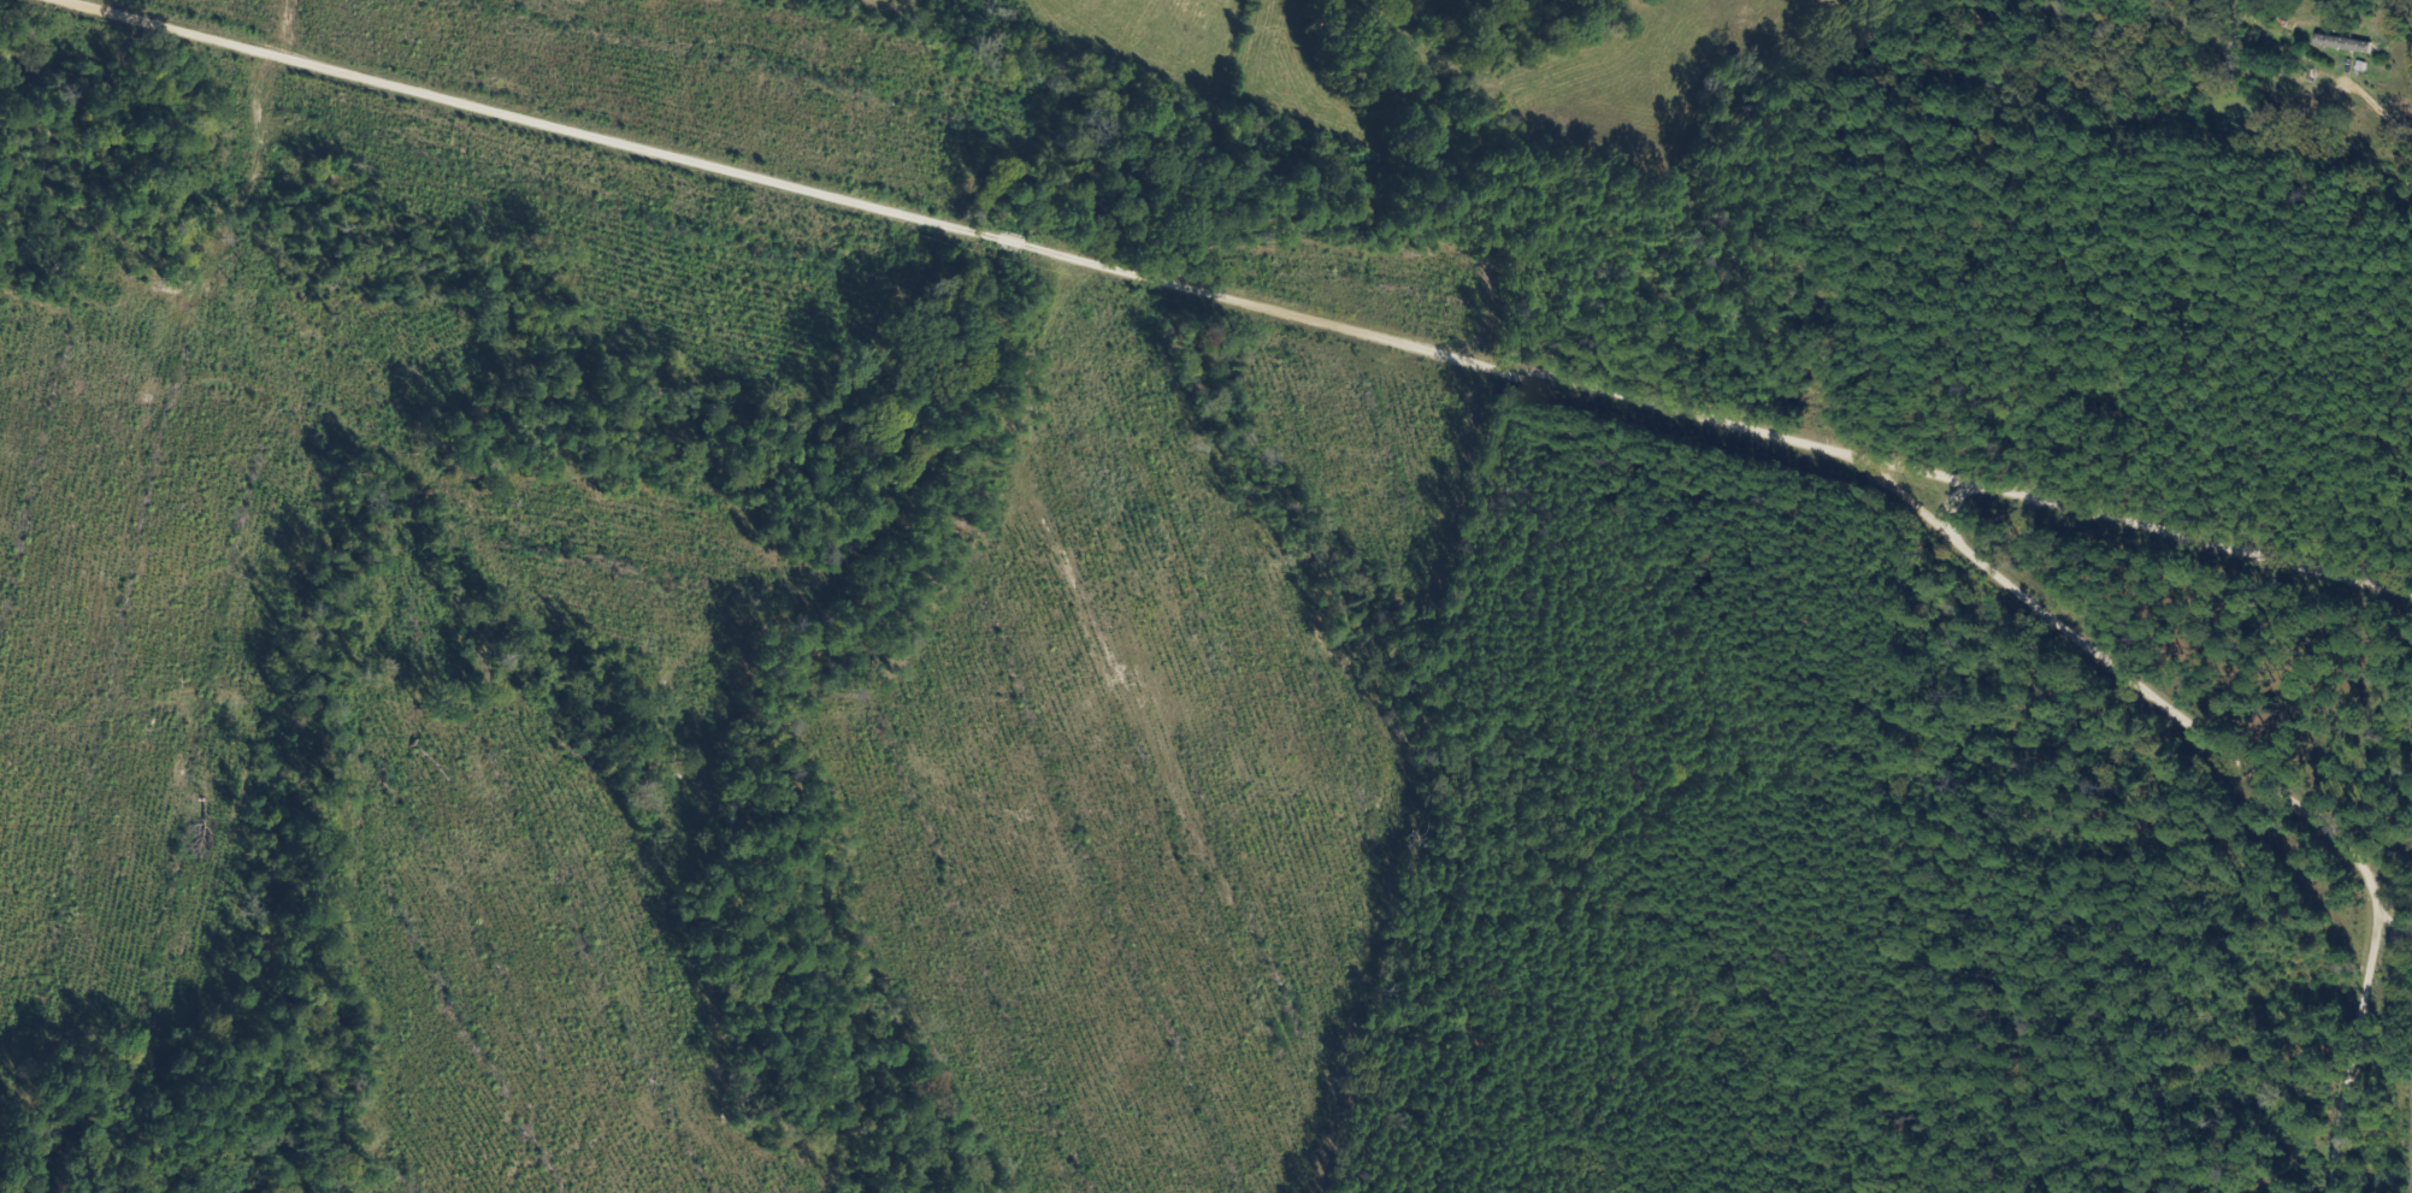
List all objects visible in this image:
building: (2341, 46)
road: (1228, 297)
road: (2249, 782)

